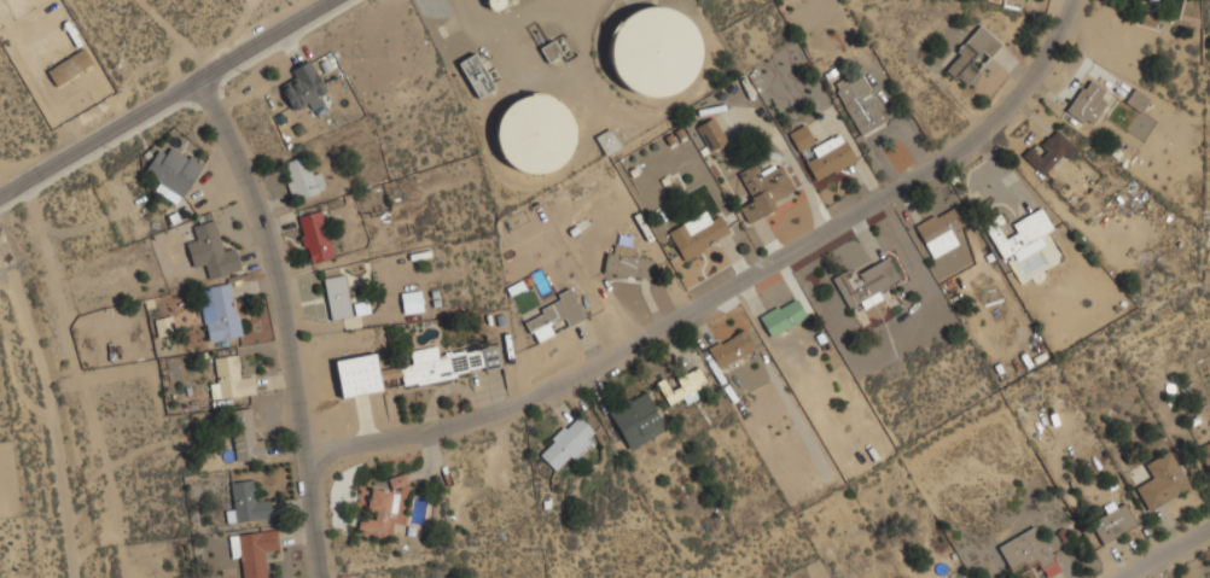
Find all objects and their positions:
building: (1024, 0)
building: (651, 48)
building: (552, 49)
building: (975, 54)
building: (478, 74)
building: (306, 84)
road: (169, 99)
building: (1136, 99)
building: (1090, 100)
building: (861, 101)
building: (530, 132)
building: (712, 133)
building: (802, 136)
building: (609, 140)
building: (1052, 151)
building: (831, 156)
building: (175, 171)
building: (302, 177)
building: (767, 188)
building: (942, 229)
building: (1018, 230)
building: (316, 235)
building: (700, 235)
building: (213, 250)
building: (628, 262)
building: (869, 281)
road: (728, 287)
building: (339, 296)
building: (413, 302)
building: (221, 310)
building: (554, 315)
building: (785, 316)
road: (287, 322)
building: (733, 346)
building: (450, 362)
building: (360, 374)
building: (232, 378)
building: (685, 385)
building: (639, 419)
building: (246, 433)
building: (569, 443)
building: (1206, 453)
building: (399, 480)
building: (1164, 480)
building: (249, 502)
building: (382, 512)
building: (1116, 521)
building: (256, 550)
building: (1030, 551)
road: (1165, 551)
building: (1001, 577)

